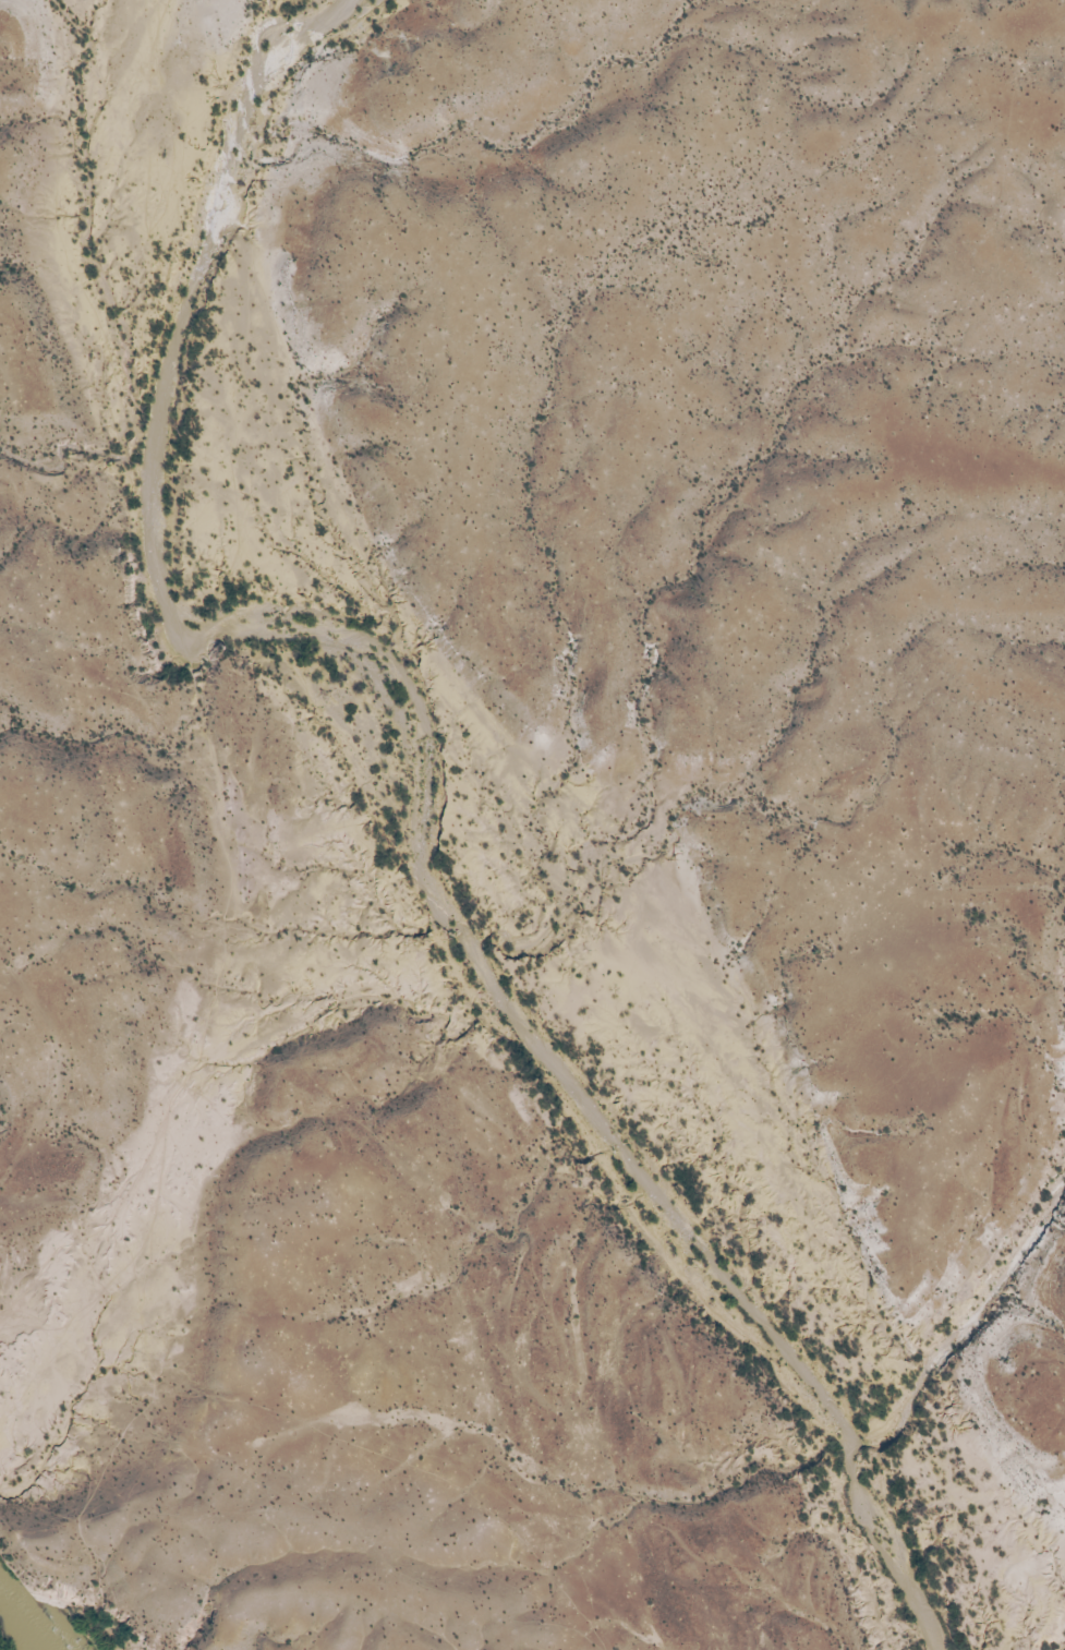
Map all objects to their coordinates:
river: (19, 1622)

